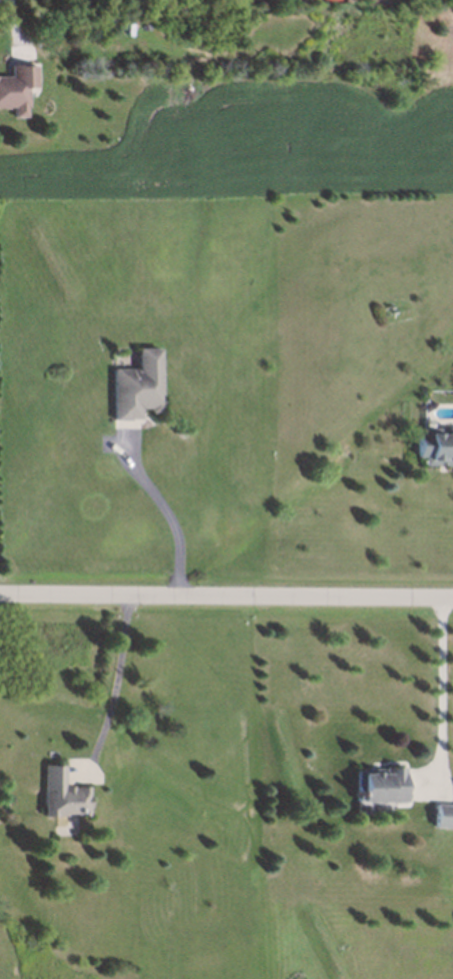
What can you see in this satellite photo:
road: (17, 24)
building: (13, 87)
building: (134, 383)
building: (435, 443)
road: (167, 513)
road: (226, 596)
road: (116, 683)
road: (443, 688)
building: (379, 785)
building: (60, 793)
building: (442, 815)

